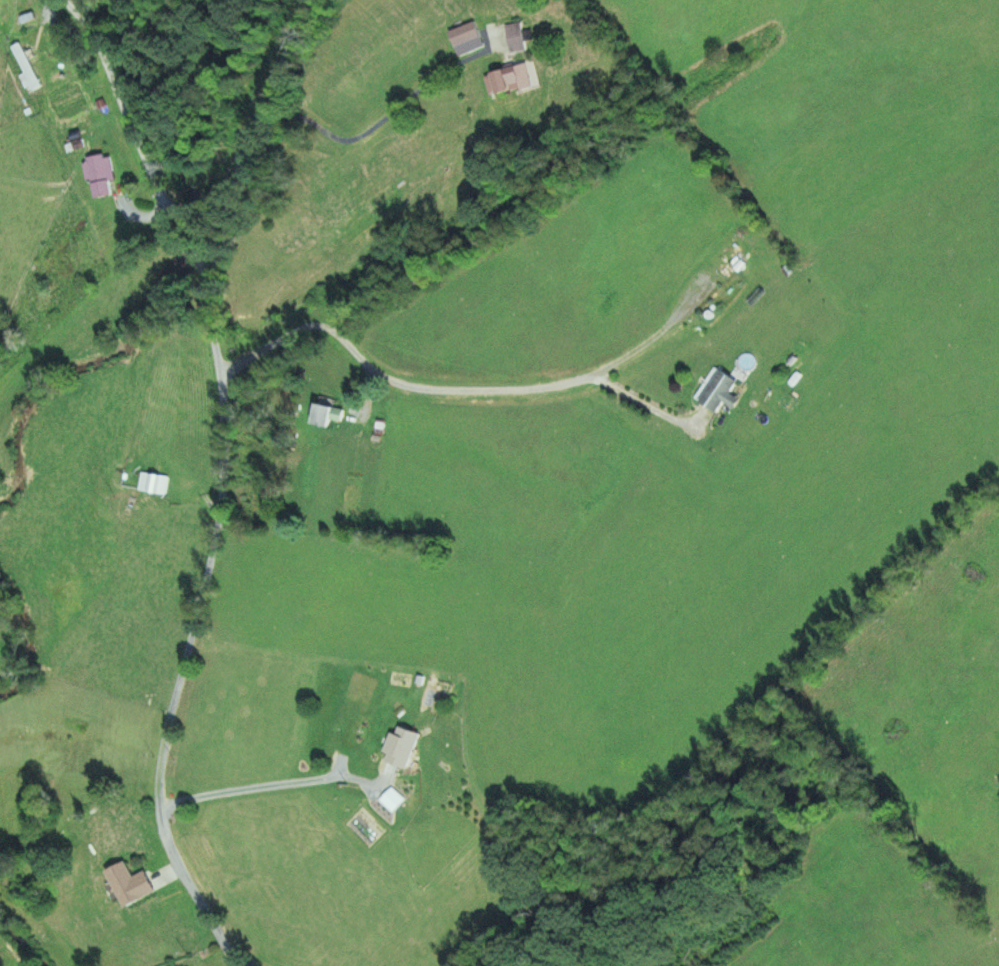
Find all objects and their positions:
building: (515, 38)
building: (466, 39)
building: (507, 81)
road: (254, 132)
road: (100, 152)
building: (99, 176)
building: (718, 391)
building: (325, 415)
building: (154, 483)
road: (191, 627)
building: (401, 747)
building: (129, 884)

